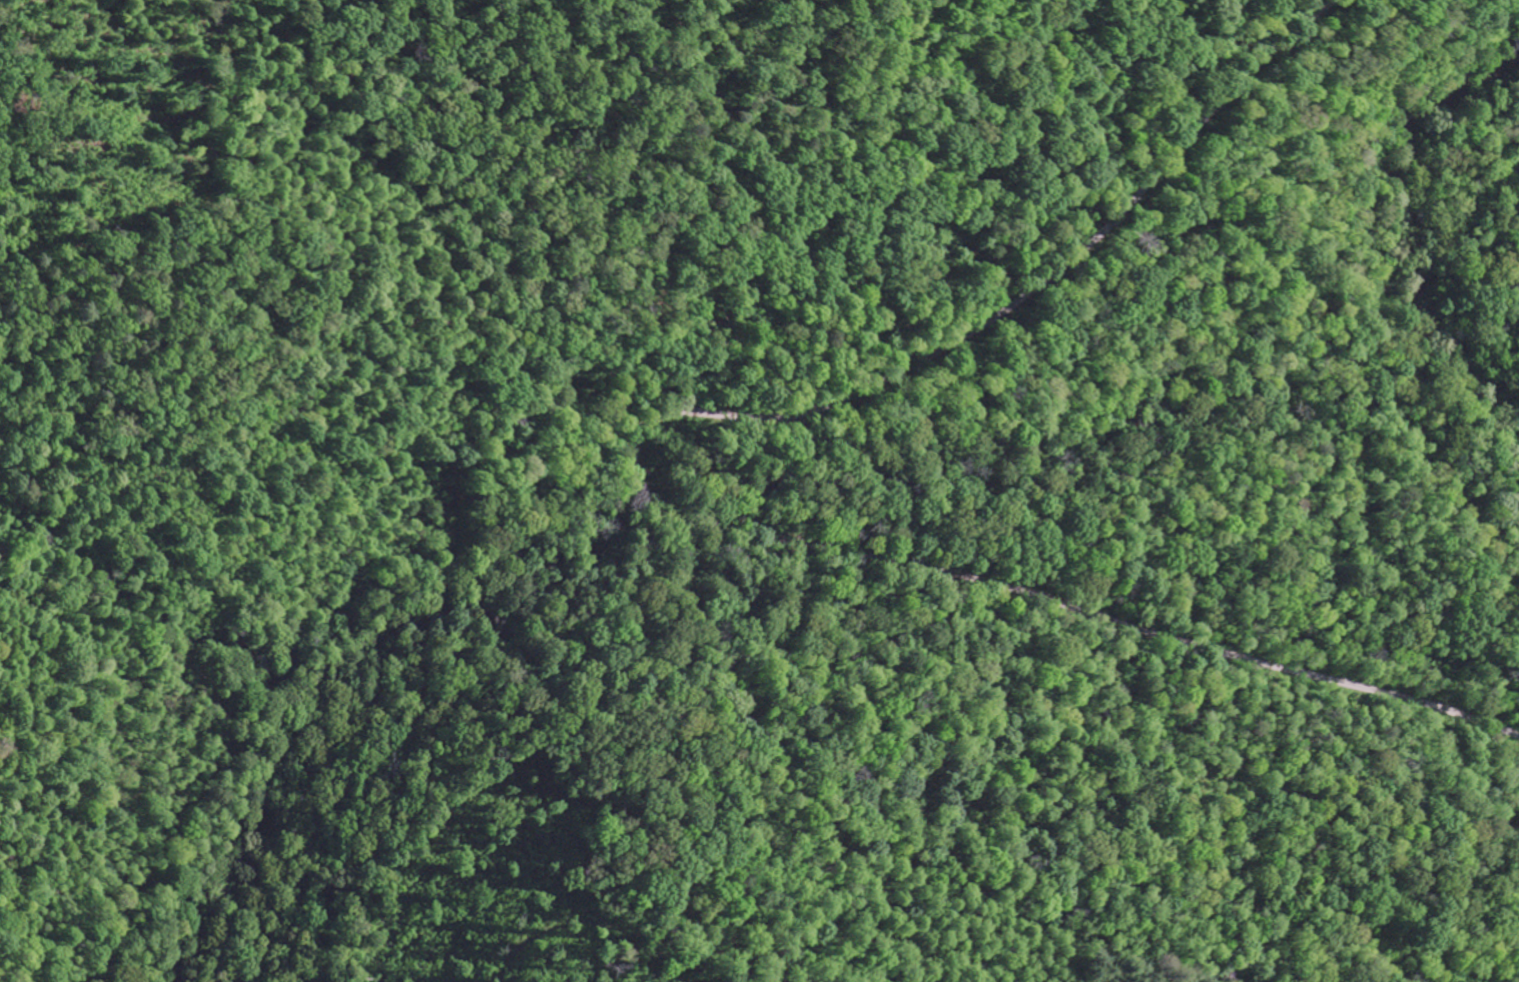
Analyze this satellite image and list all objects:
road: (633, 452)
road: (649, 486)

